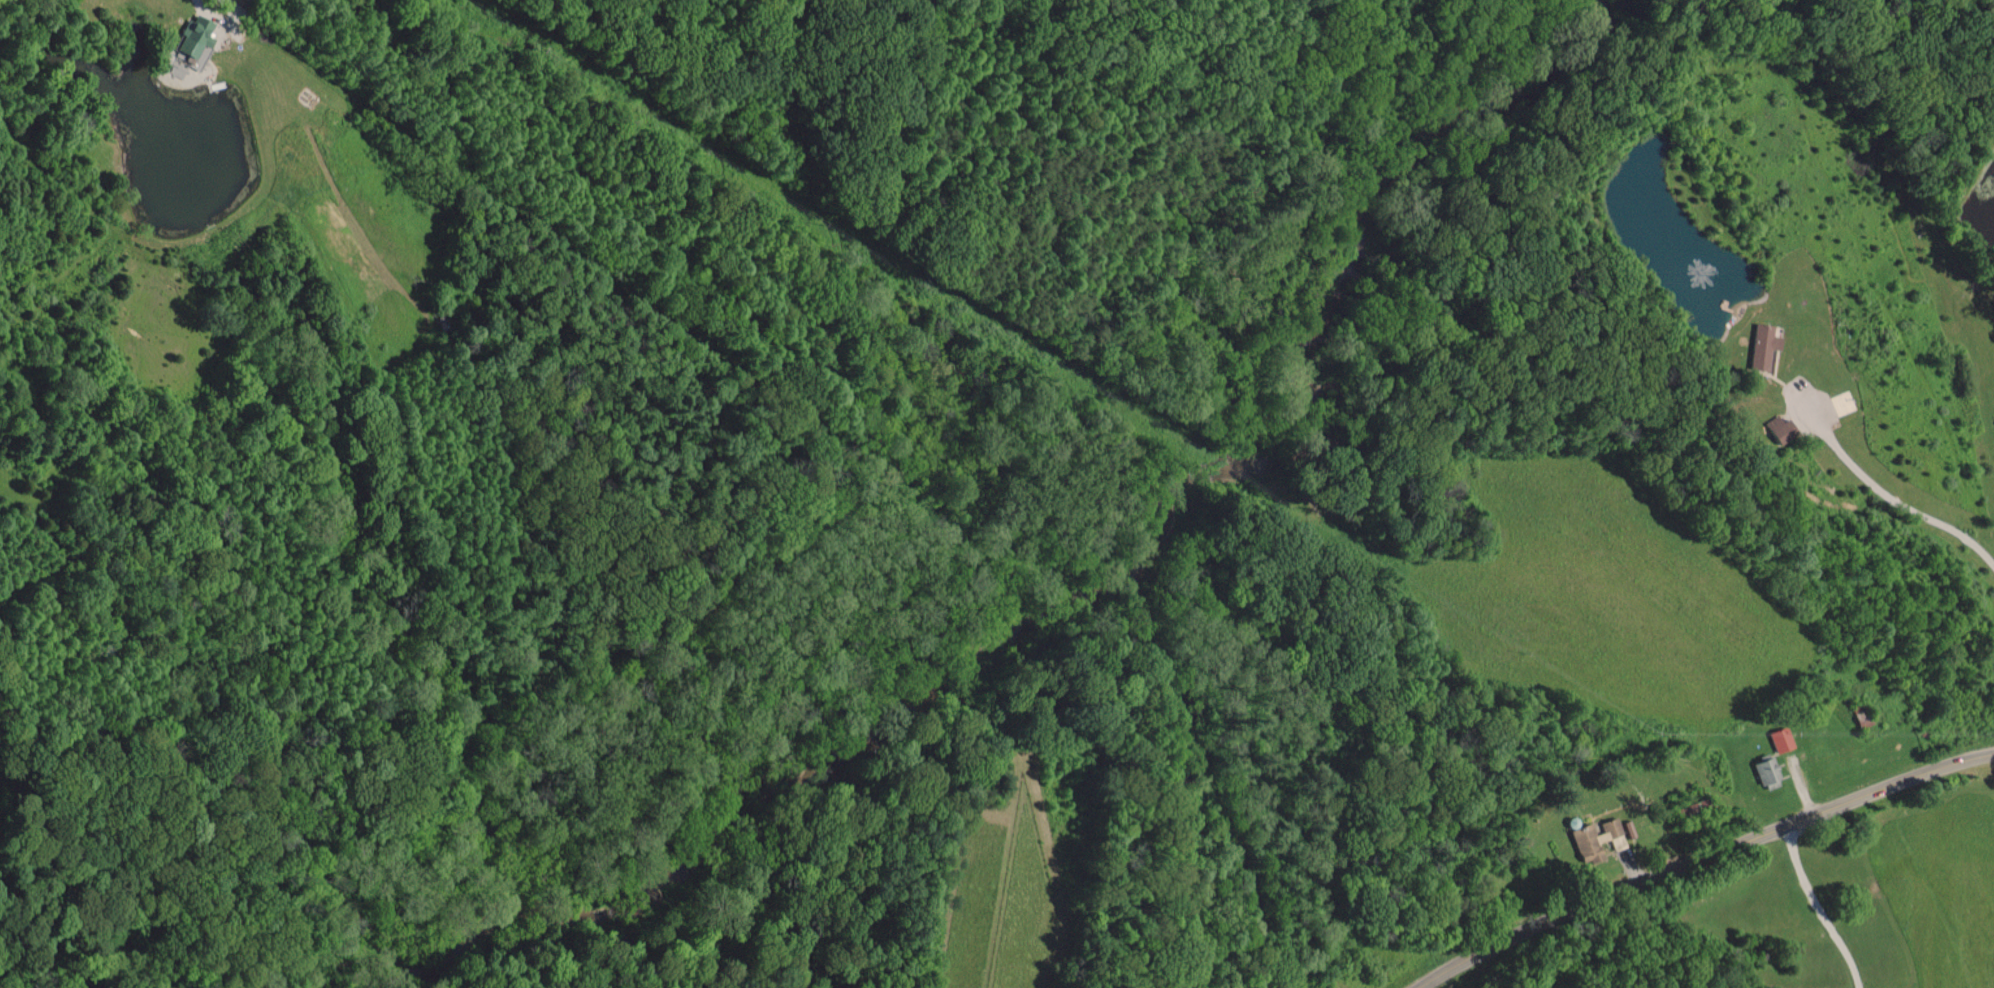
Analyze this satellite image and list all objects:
road: (227, 4)
building: (190, 46)
building: (1759, 347)
building: (1777, 427)
road: (1893, 498)
building: (1778, 738)
building: (1764, 772)
building: (1595, 838)
road: (1701, 858)

